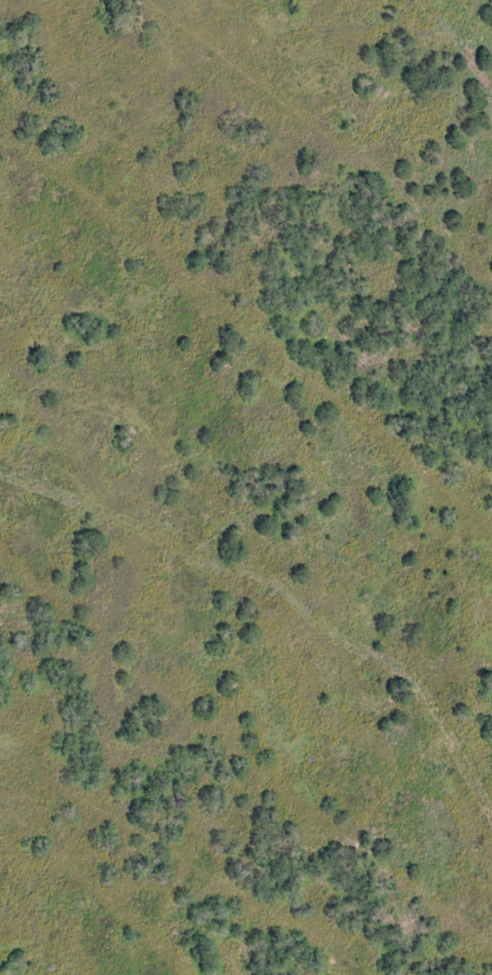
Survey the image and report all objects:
road: (189, 849)

